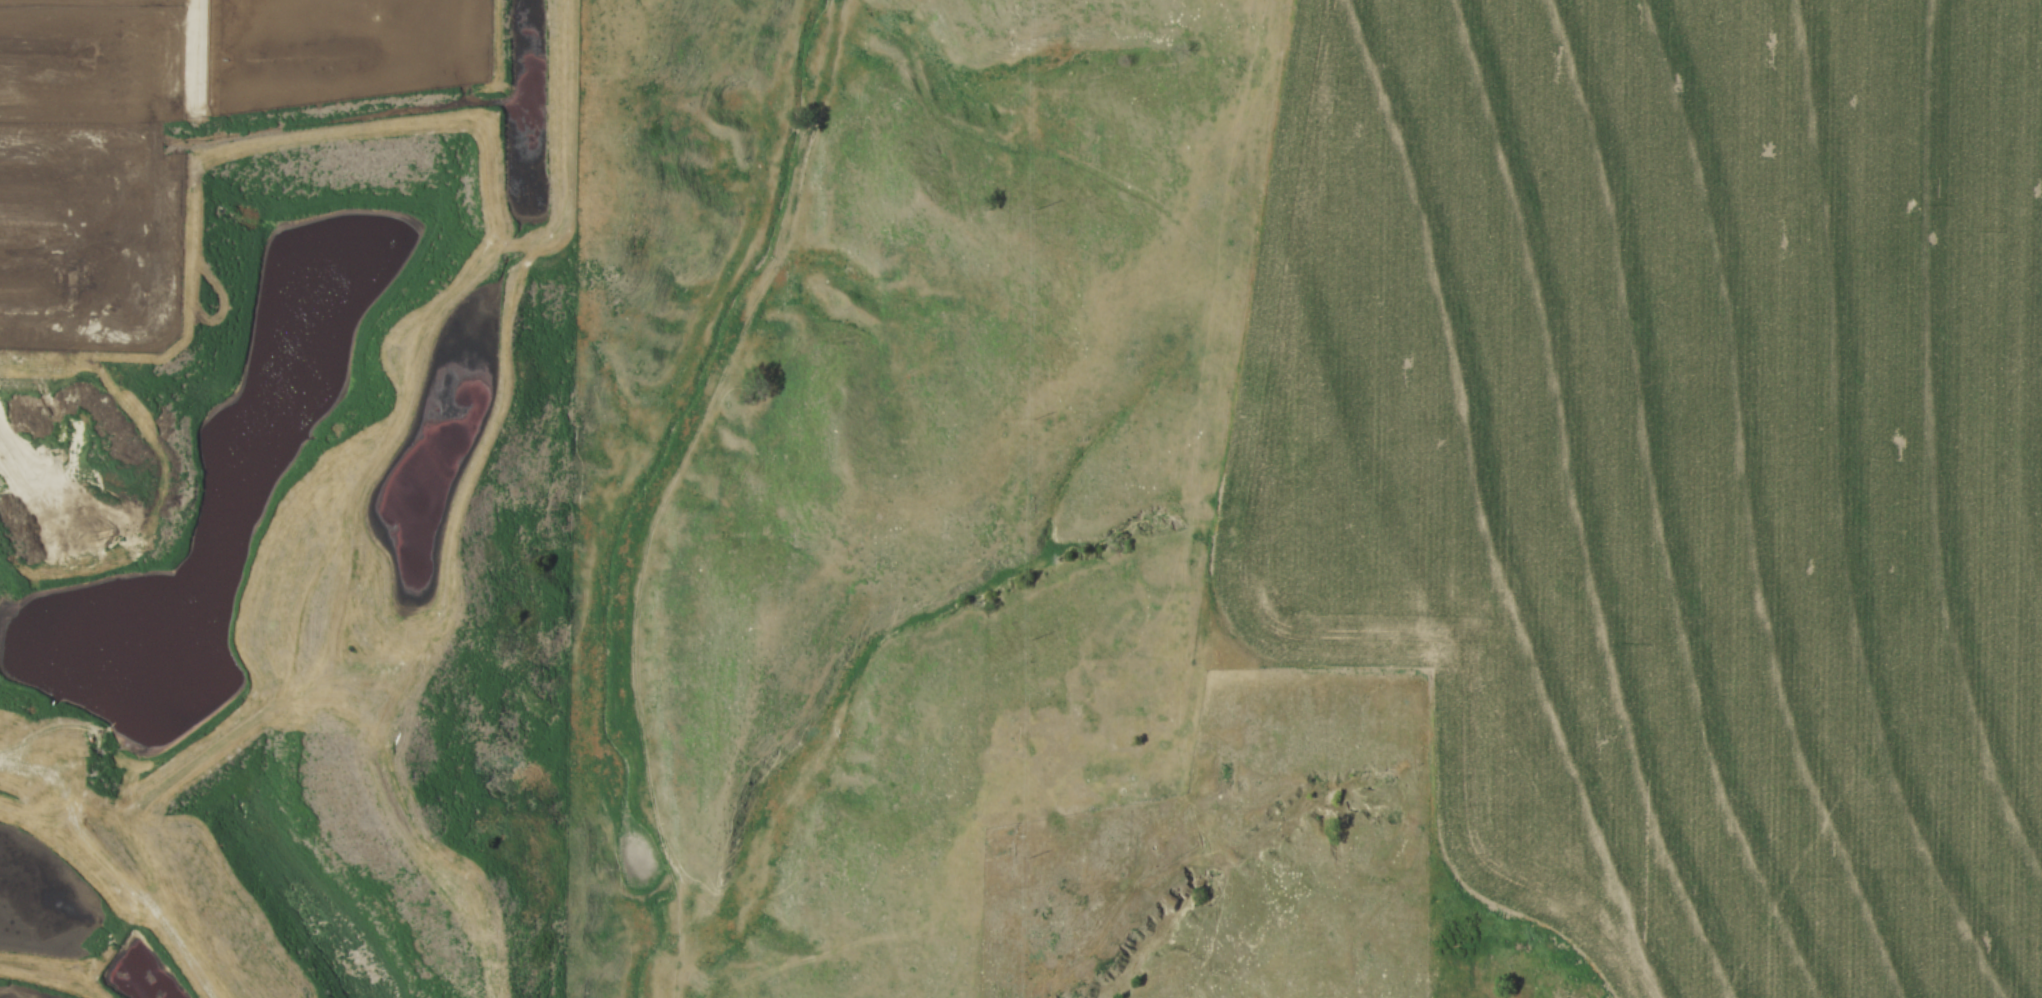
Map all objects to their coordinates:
crop: (1674, 465)

